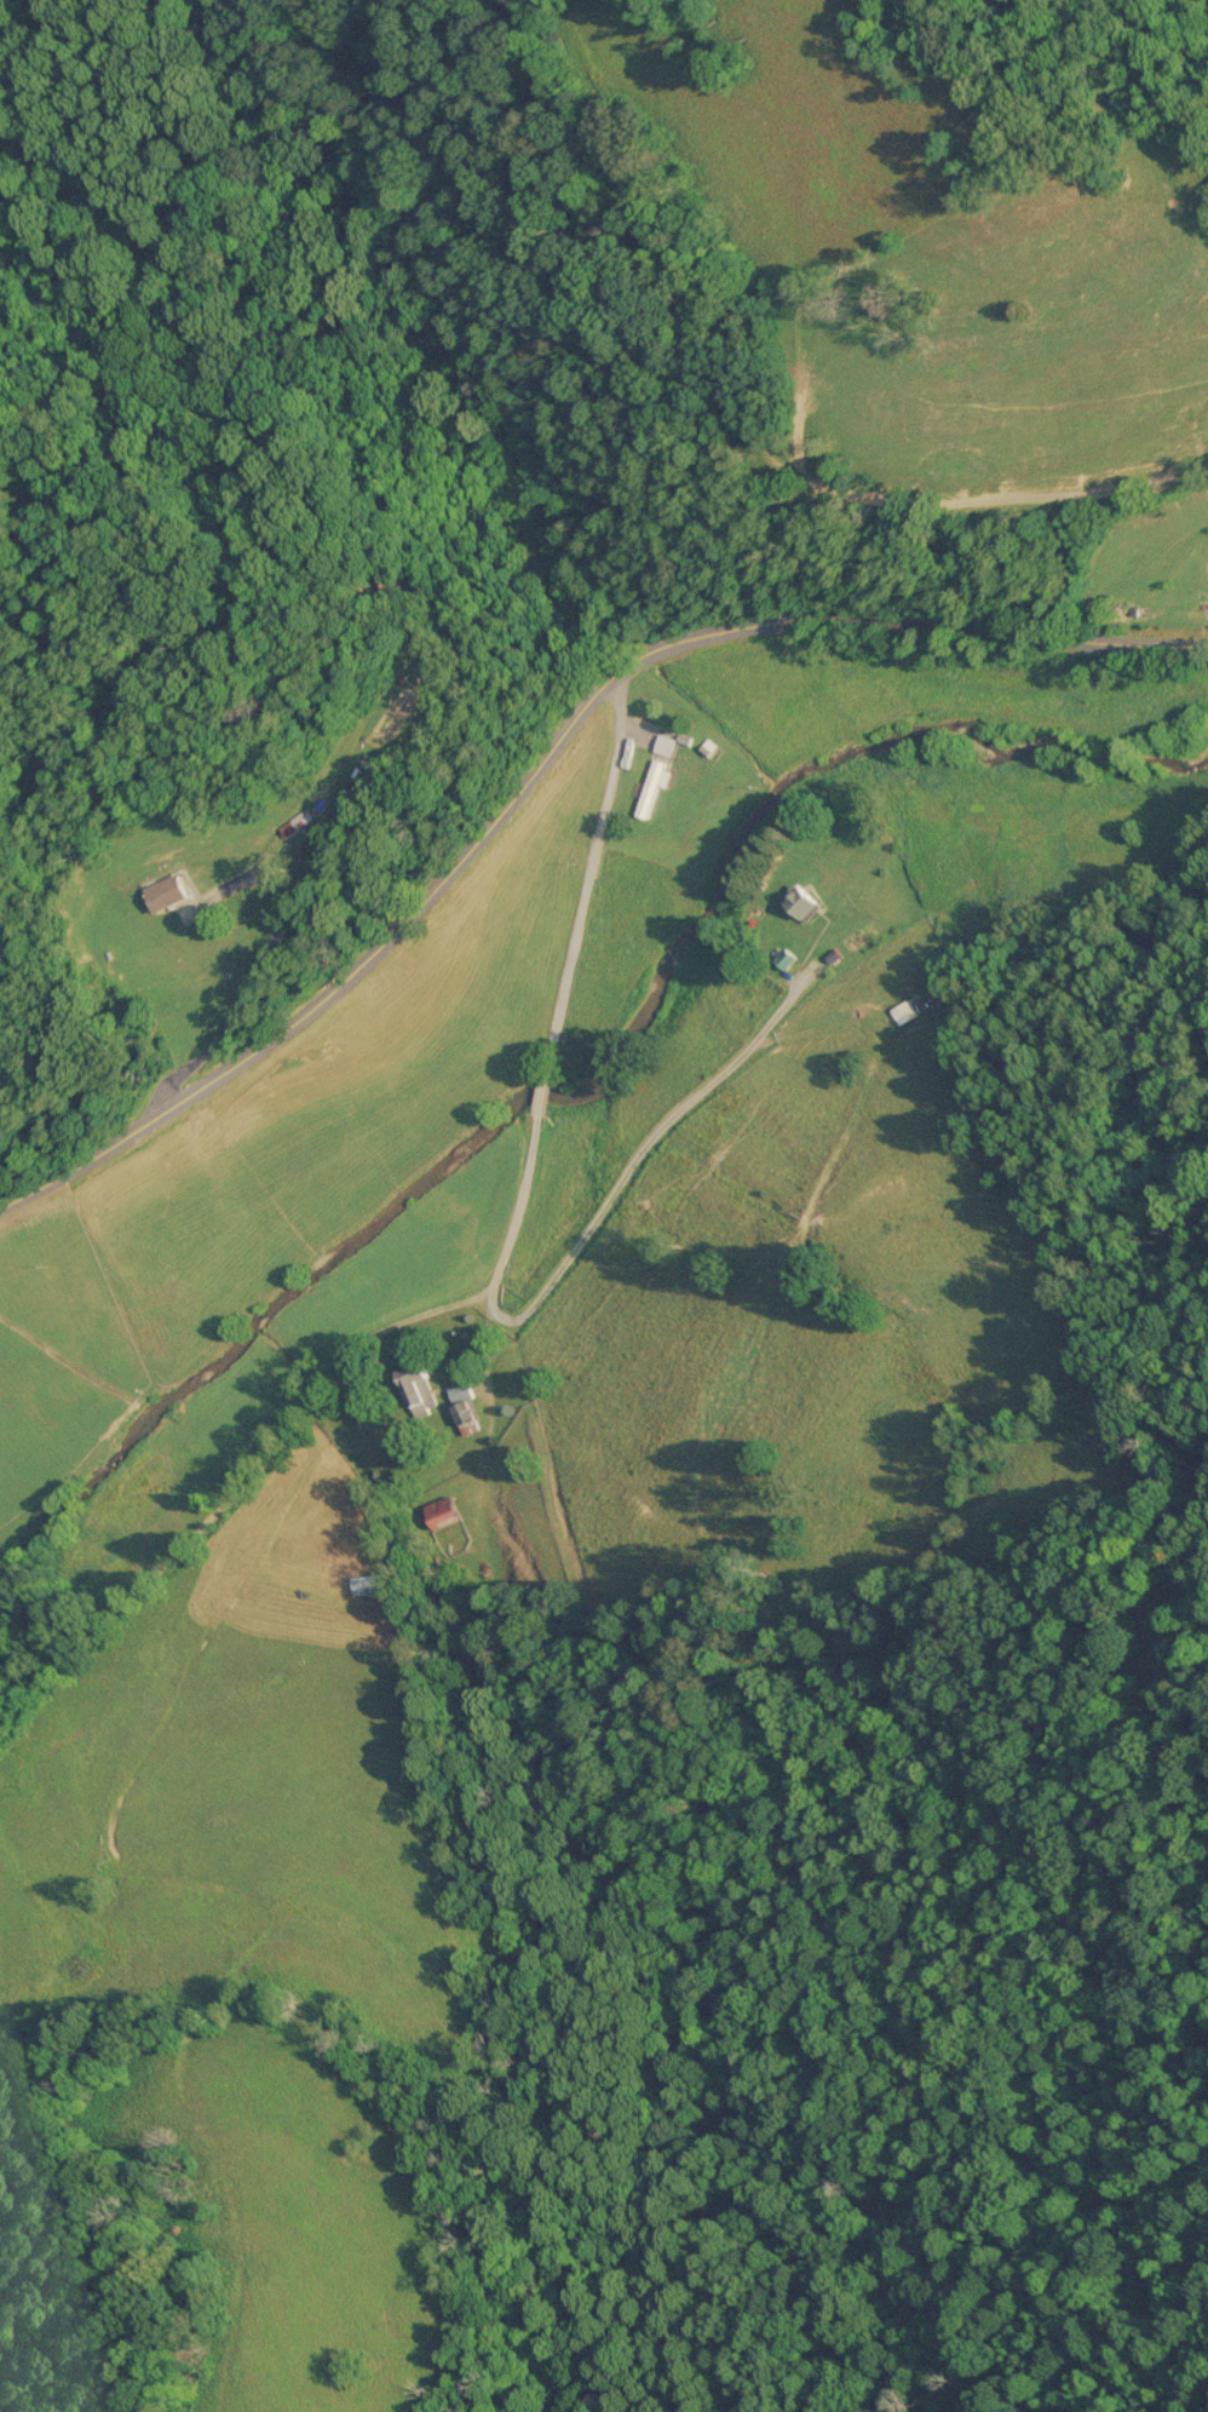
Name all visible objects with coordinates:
road: (919, 620)
building: (666, 743)
building: (654, 785)
building: (298, 823)
building: (169, 891)
building: (801, 900)
road: (356, 977)
building: (902, 1011)
road: (478, 1294)
building: (421, 1388)
building: (461, 1389)
building: (445, 1509)
building: (369, 1583)

